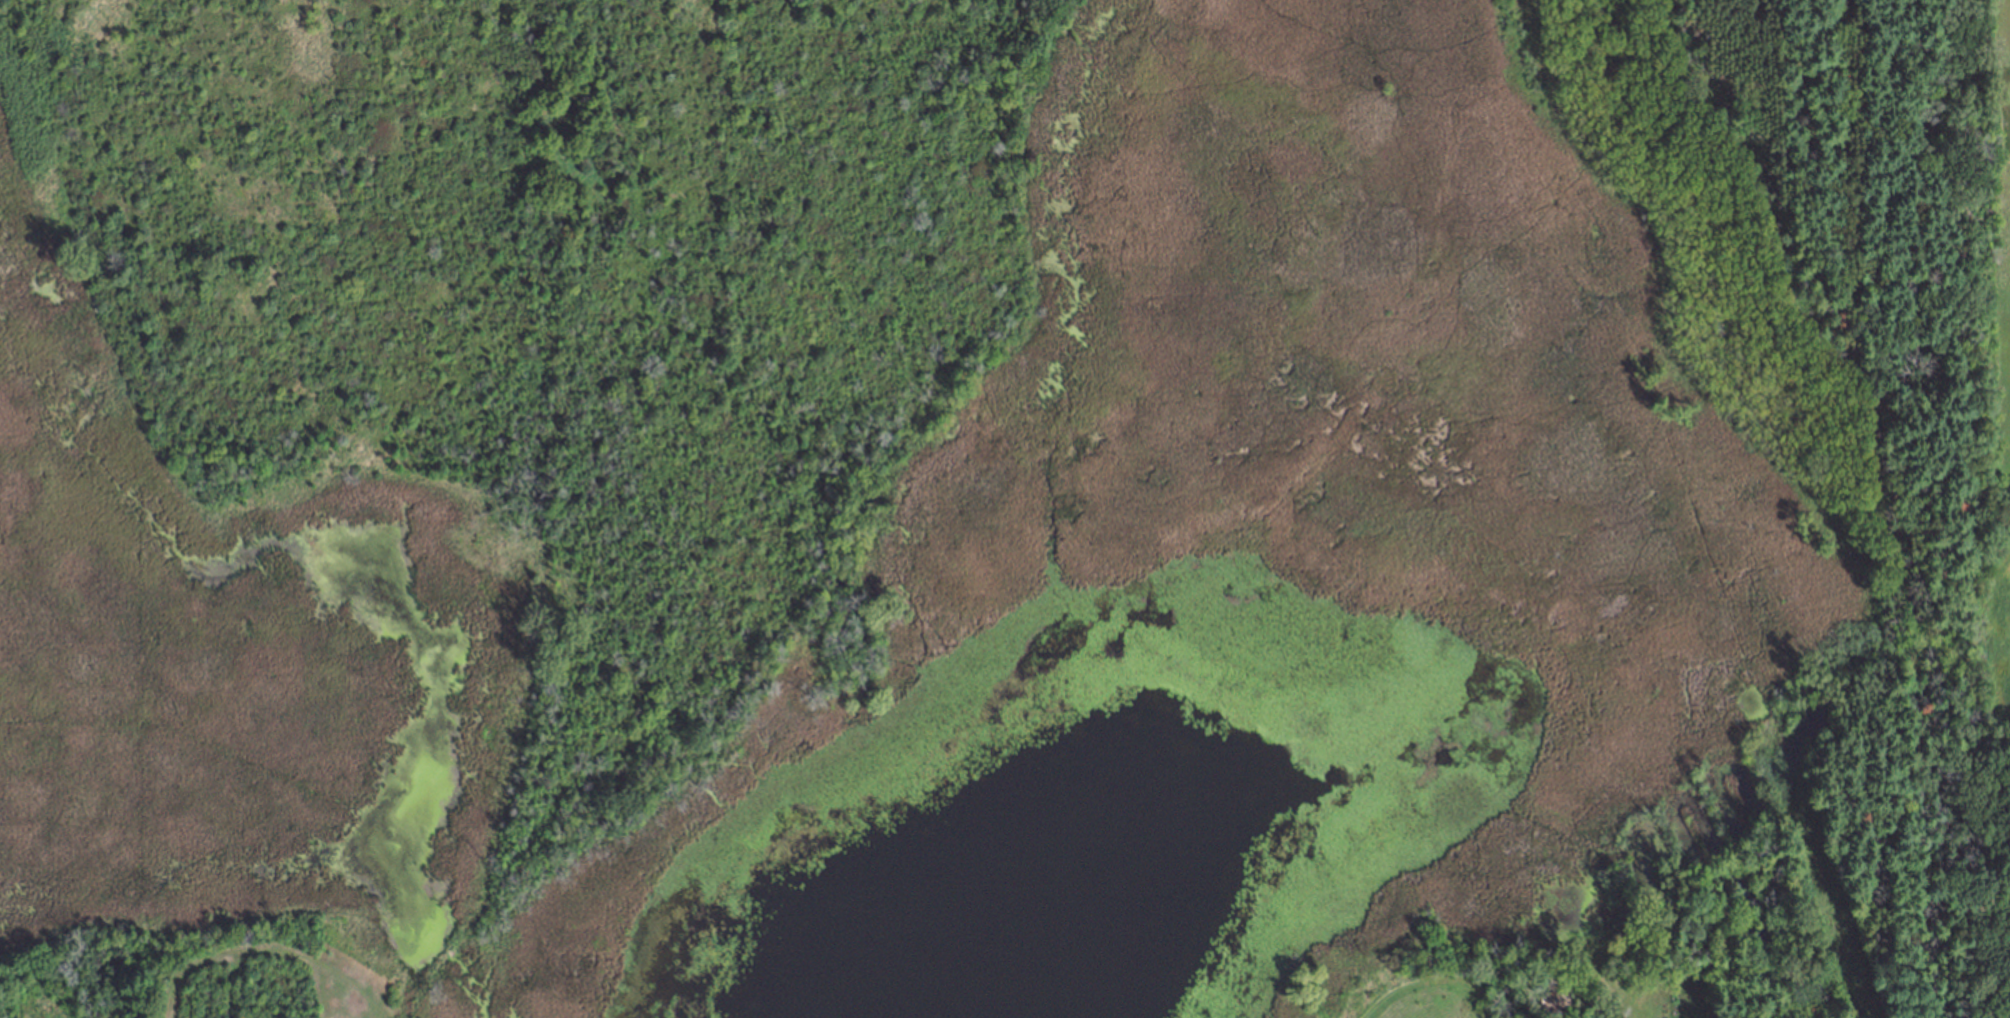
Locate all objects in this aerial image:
building: (1550, 998)

